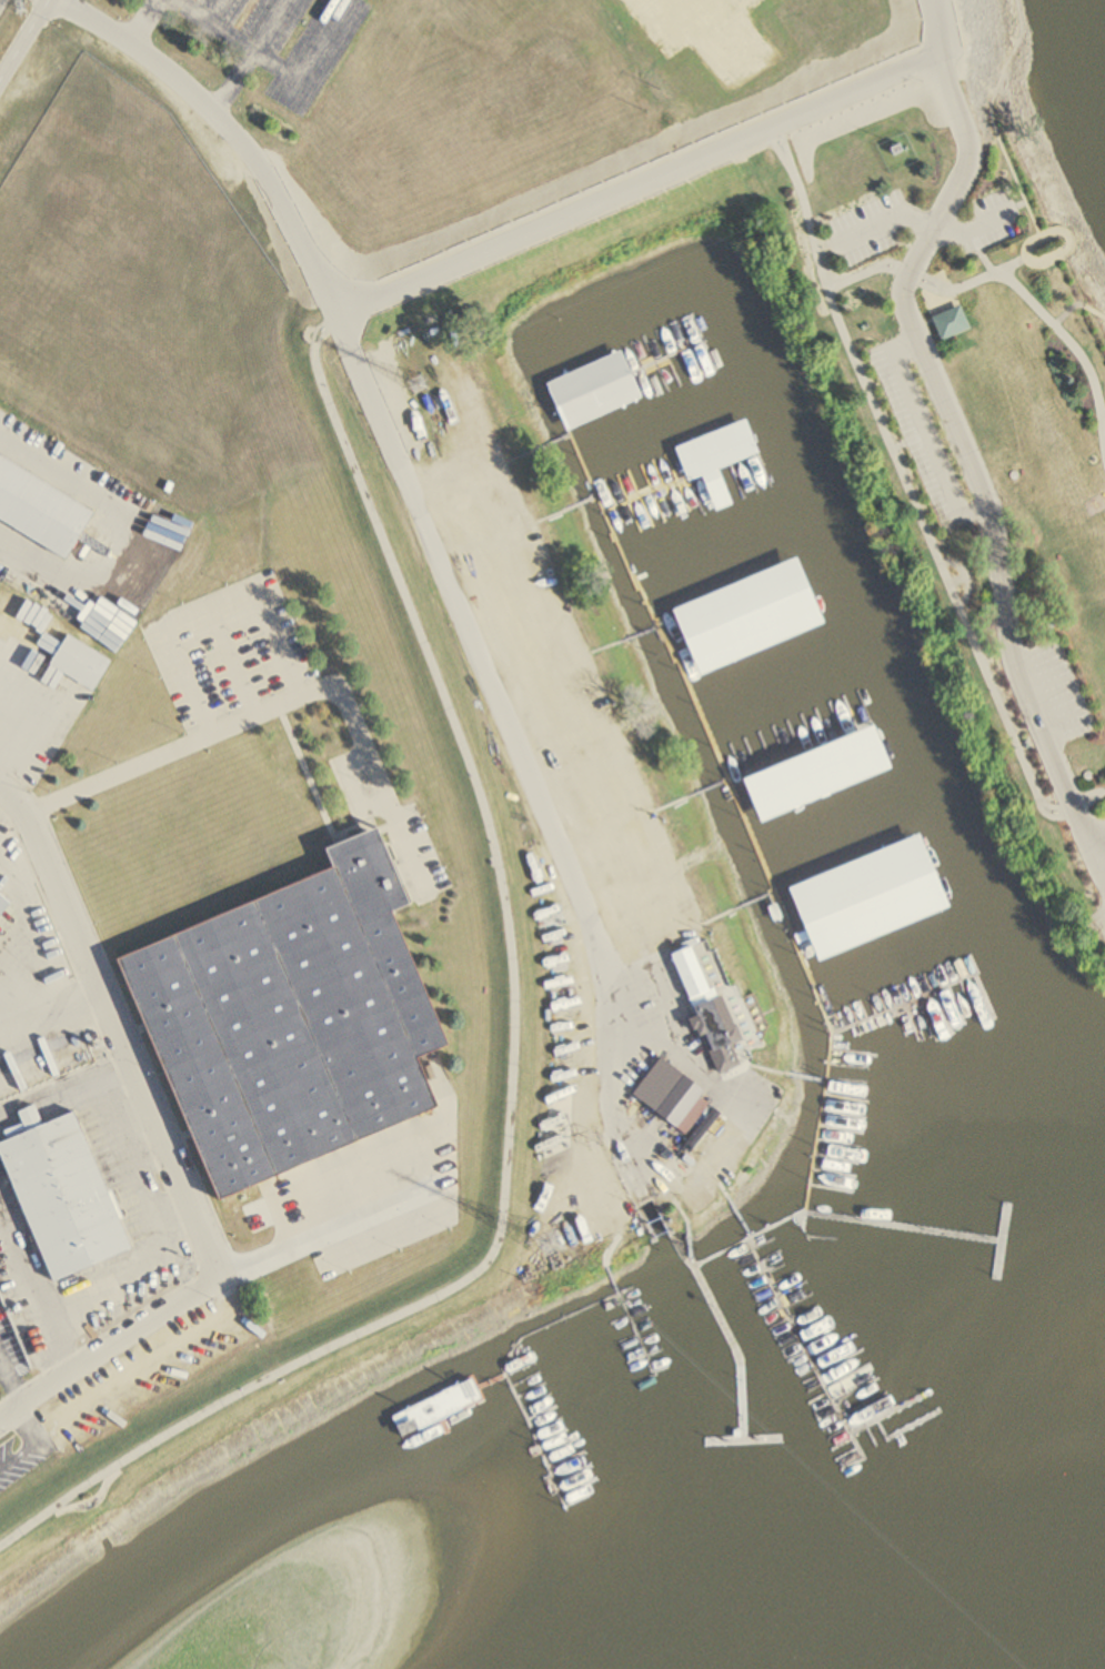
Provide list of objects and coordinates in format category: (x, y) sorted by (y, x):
power tower: (19, 9)
building: (667, 12)
road: (955, 21)
road: (141, 22)
road: (24, 40)
road: (1007, 120)
road: (787, 147)
road: (780, 150)
road: (649, 182)
road: (932, 221)
parking lot: (1003, 221)
parking lot: (867, 225)
road: (810, 227)
road: (1084, 247)
road: (826, 250)
road: (999, 260)
road: (1022, 262)
road: (1013, 280)
road: (1077, 304)
building: (950, 321)
power tower: (414, 382)
building: (596, 390)
park: (923, 395)
road: (1103, 412)
parking lot: (933, 431)
road: (964, 432)
road: (926, 434)
road: (901, 445)
building: (719, 451)
building: (42, 506)
road: (416, 507)
road: (945, 576)
road: (966, 576)
road: (957, 581)
road: (207, 604)
building: (750, 616)
road: (231, 661)
building: (82, 663)
parking lot: (1054, 695)
road: (282, 705)
building: (820, 774)
road: (1086, 836)
road: (1097, 842)
road: (1097, 862)
parking lot: (1093, 863)
building: (873, 897)
building: (3, 903)
building: (716, 1003)
building: (294, 1020)
road: (117, 1025)
road: (514, 1053)
building: (675, 1096)
building: (66, 1192)
road: (330, 1227)
power tower: (563, 1247)
road: (110, 1344)
road: (7, 1391)
building: (446, 1404)
road: (22, 1440)
river: (914, 1586)

